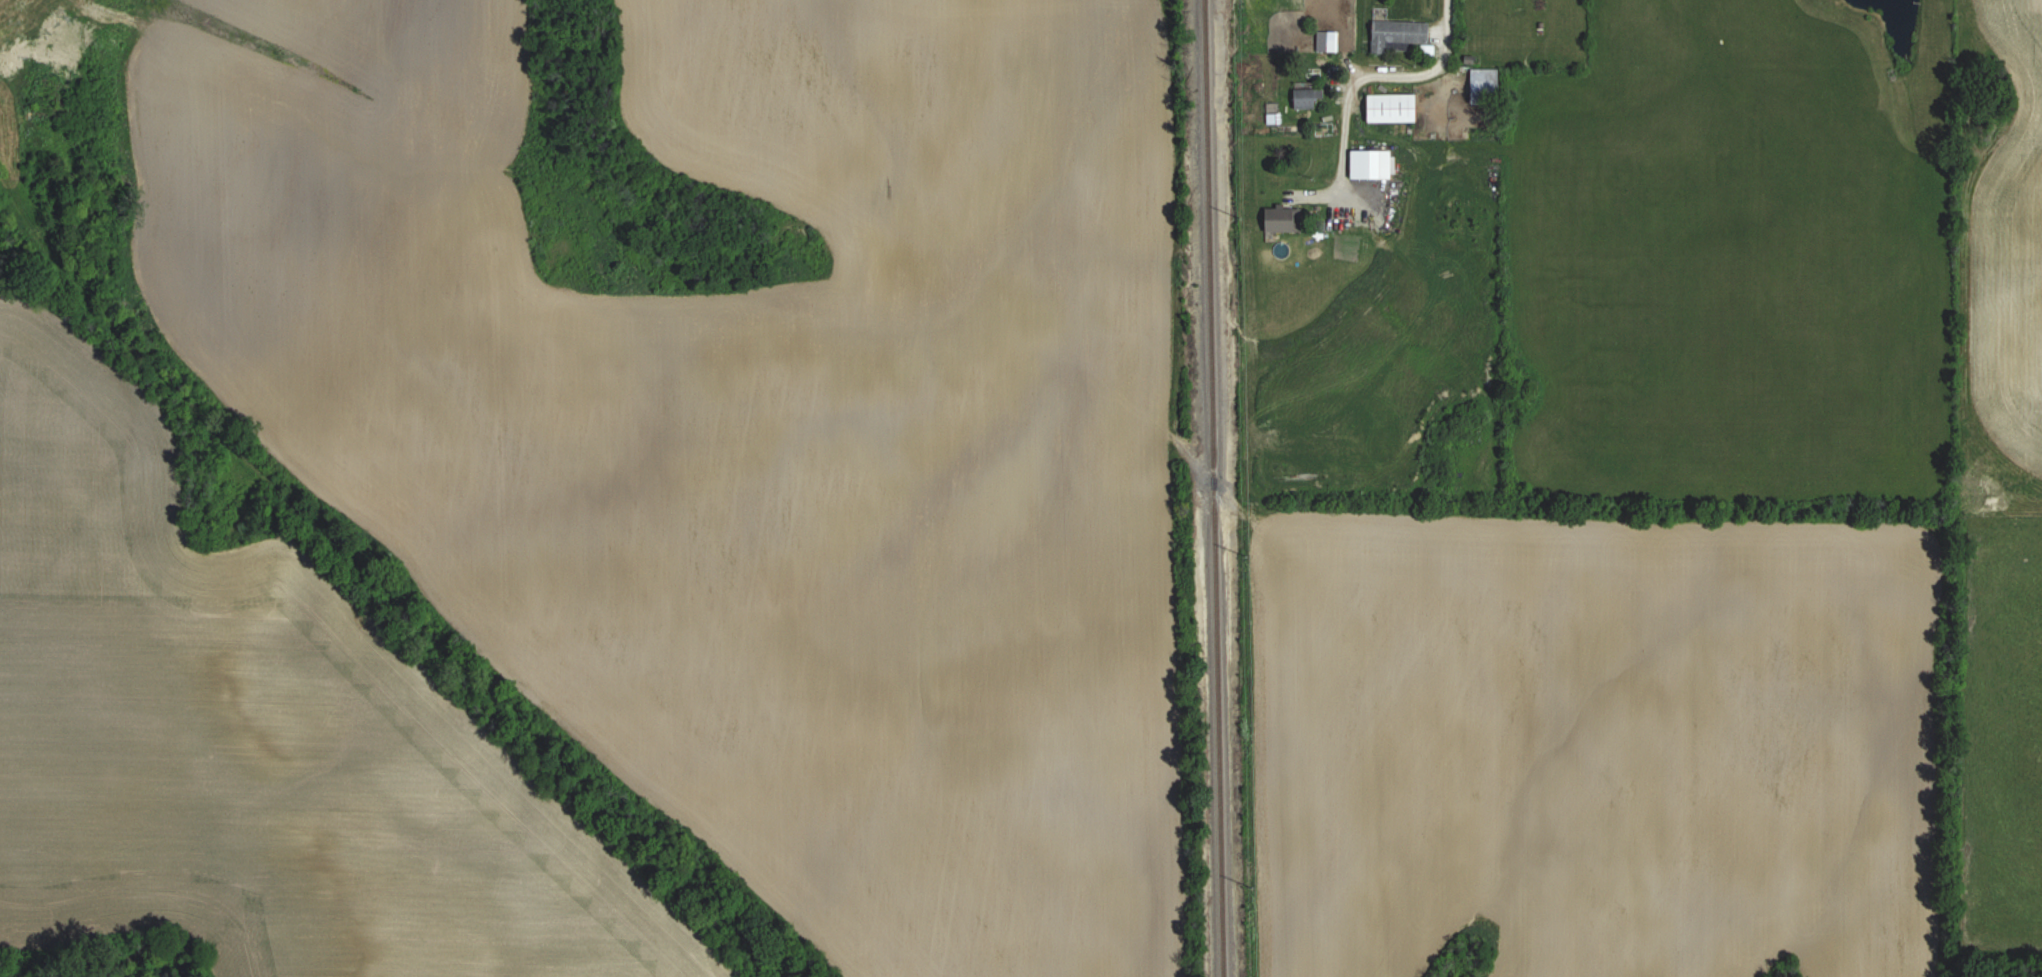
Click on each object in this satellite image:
building: (1403, 32)
road: (1371, 76)
building: (1311, 98)
building: (1397, 108)
building: (1257, 124)
building: (1371, 164)
building: (1287, 219)
railway: (1212, 488)

